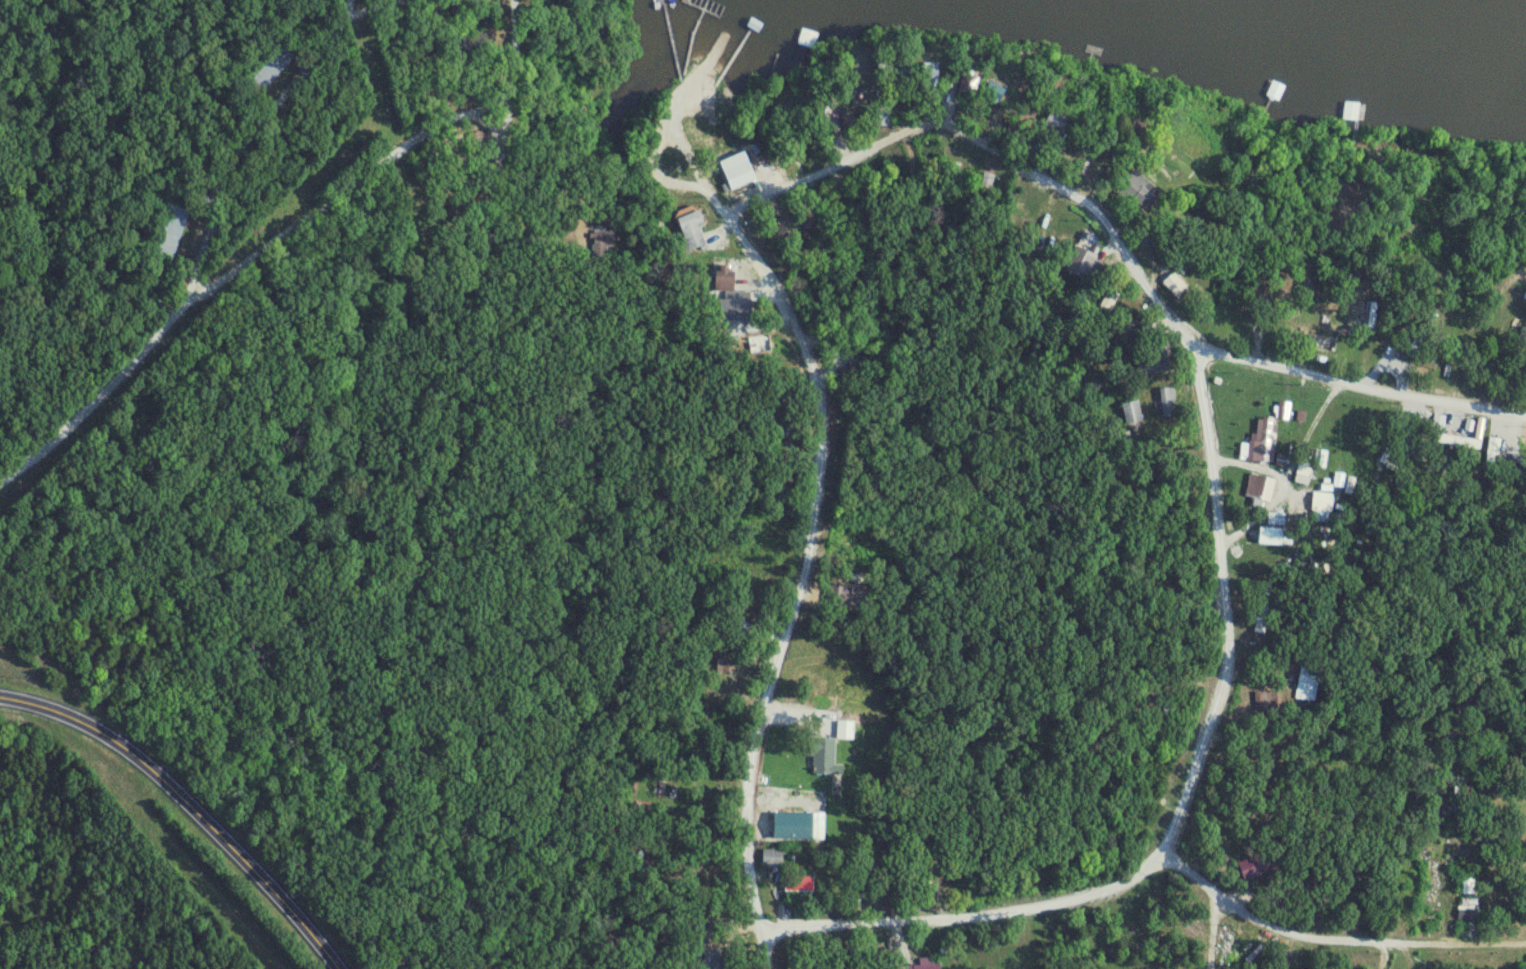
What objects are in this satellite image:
river: (1319, 25)
road: (491, 37)
building: (271, 68)
building: (894, 70)
building: (931, 76)
building: (994, 93)
building: (830, 110)
road: (169, 116)
building: (882, 117)
building: (1056, 123)
road: (995, 150)
road: (664, 168)
road: (340, 194)
building: (172, 234)
road: (191, 238)
building: (602, 245)
road: (533, 252)
building: (726, 278)
building: (1177, 288)
building: (742, 312)
building: (1137, 332)
building: (1422, 334)
building: (1322, 343)
building: (761, 345)
building: (1393, 348)
building: (1153, 365)
road: (1361, 388)
building: (1169, 403)
building: (1285, 411)
building: (1133, 413)
building: (781, 414)
building: (1265, 440)
building: (1514, 470)
building: (1265, 489)
building: (1272, 537)
road: (802, 571)
building: (726, 667)
building: (1309, 684)
building: (1264, 701)
building: (846, 730)
building: (824, 757)
building: (1279, 767)
road: (1365, 775)
road: (189, 804)
road: (1185, 810)
building: (1435, 850)
building: (771, 859)
building: (799, 884)
building: (1468, 886)
building: (931, 895)
road: (1213, 937)
road: (1329, 946)
road: (764, 952)
building: (713, 960)
building: (834, 967)
building: (918, 967)

